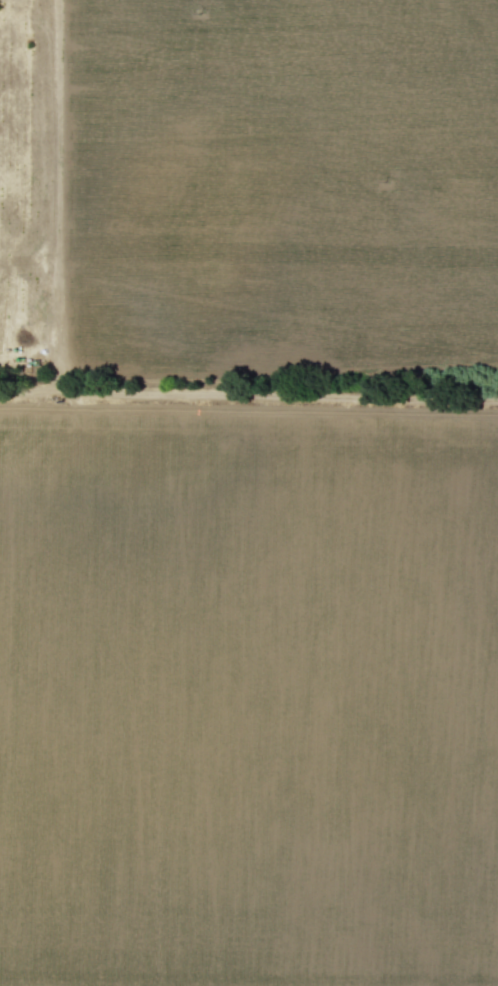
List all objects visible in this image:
crop: (249, 493)

